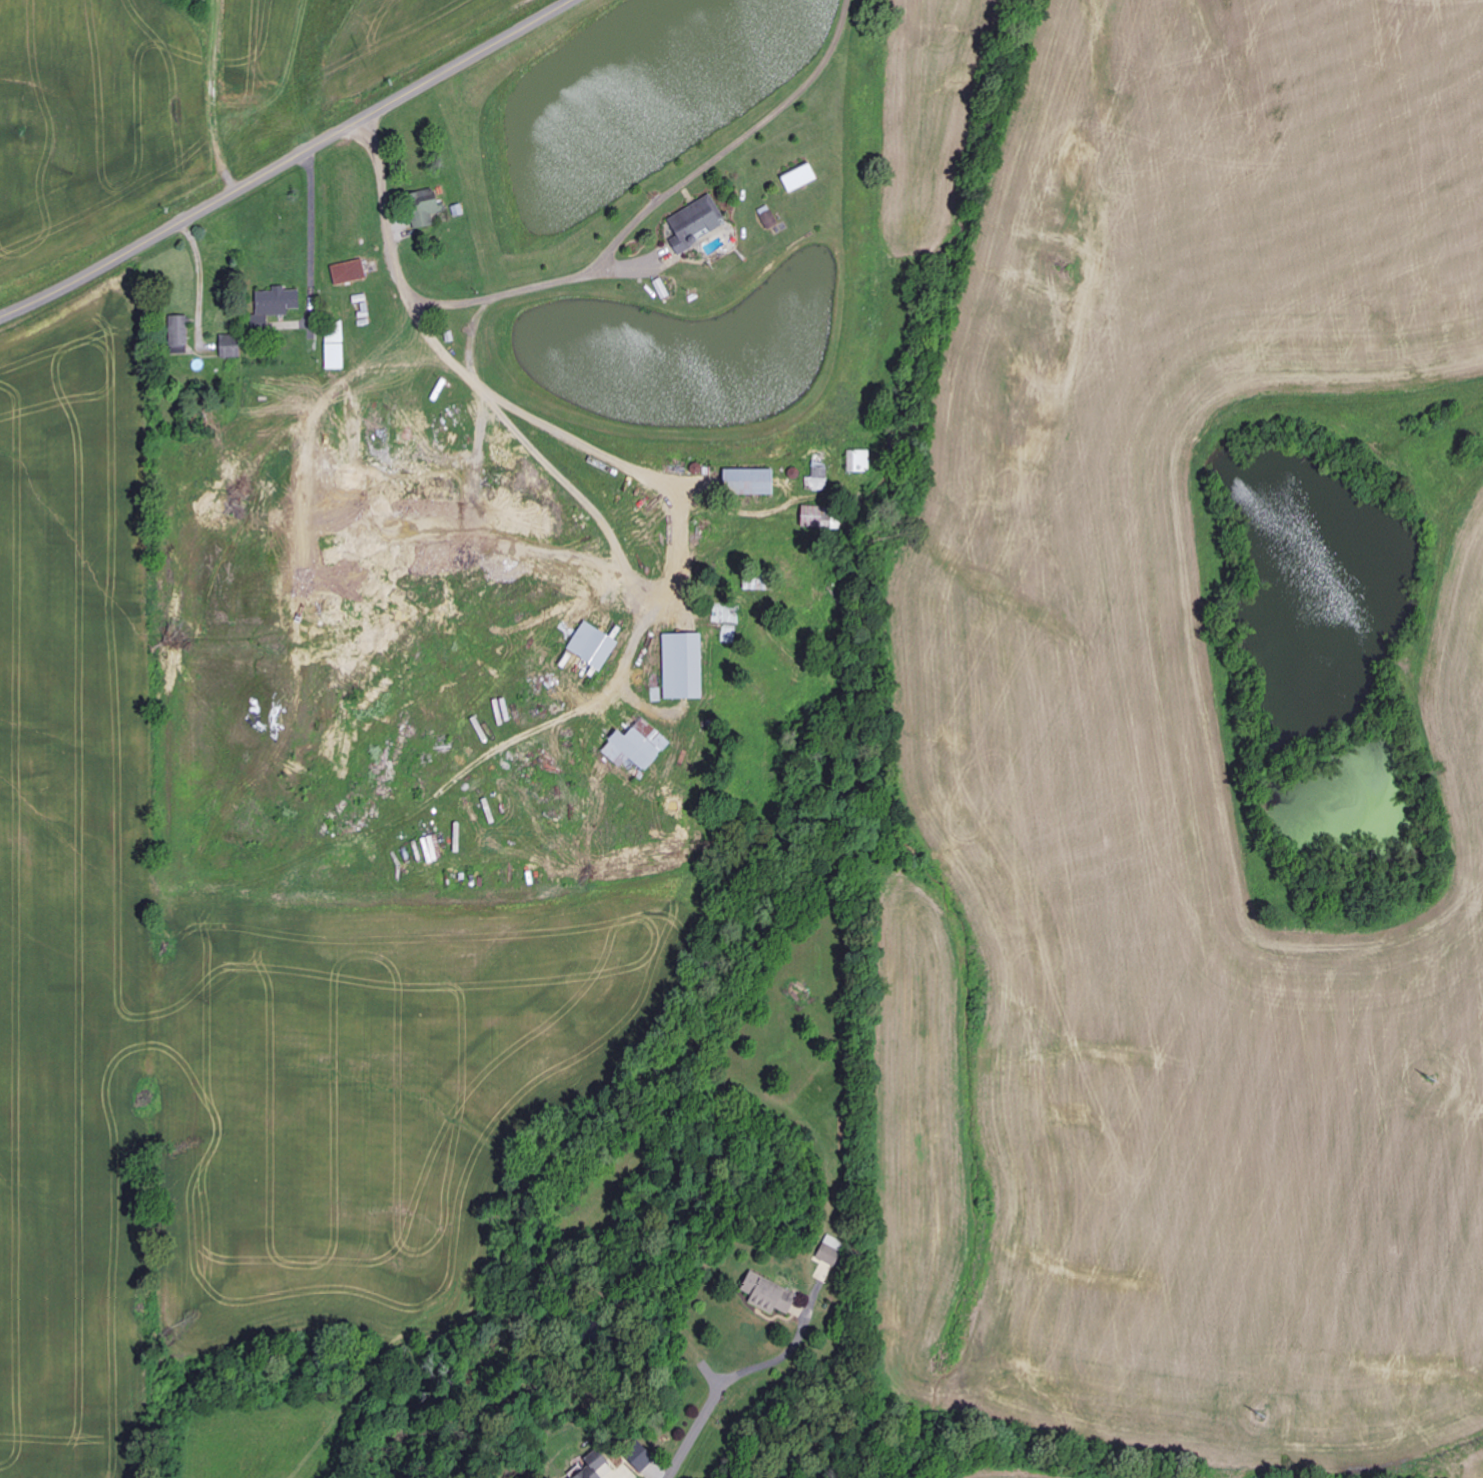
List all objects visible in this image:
road: (287, 161)
building: (801, 177)
building: (427, 210)
building: (770, 219)
building: (698, 223)
building: (350, 272)
road: (595, 272)
building: (276, 304)
building: (181, 335)
building: (232, 346)
building: (336, 351)
building: (819, 479)
building: (752, 482)
building: (814, 517)
building: (590, 653)
building: (684, 666)
building: (638, 747)
building: (833, 1251)
building: (772, 1296)
road: (701, 1423)
building: (644, 1460)
building: (593, 1467)

